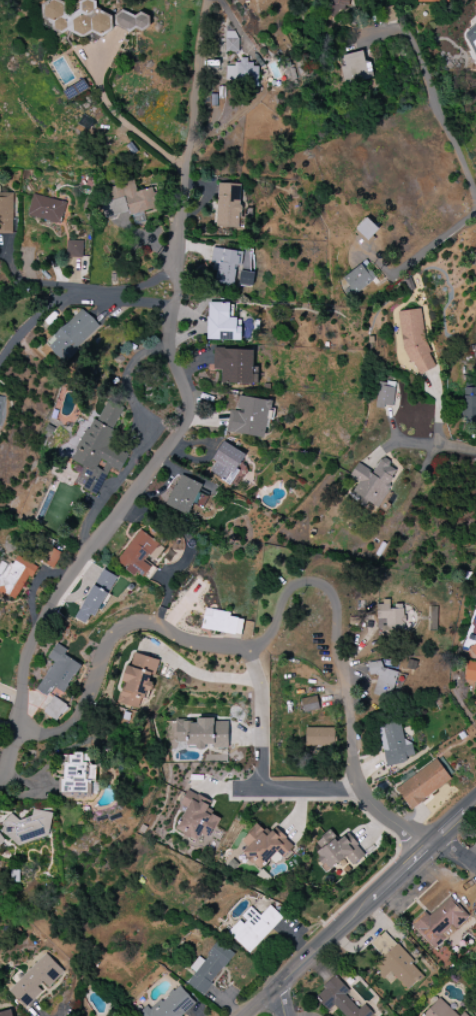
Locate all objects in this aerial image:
building: (433, 1)
building: (335, 7)
park: (111, 8)
building: (388, 14)
building: (90, 19)
building: (471, 38)
building: (355, 68)
building: (241, 72)
road: (436, 106)
road: (121, 118)
building: (126, 200)
building: (228, 205)
building: (46, 209)
building: (6, 213)
road: (433, 244)
building: (74, 249)
building: (225, 265)
building: (359, 277)
building: (246, 278)
road: (145, 285)
road: (31, 292)
road: (118, 301)
building: (221, 323)
road: (30, 333)
building: (72, 335)
building: (414, 339)
building: (475, 349)
building: (234, 365)
building: (385, 394)
building: (469, 404)
building: (2, 410)
road: (188, 416)
building: (101, 442)
road: (141, 443)
road: (421, 443)
building: (226, 463)
building: (373, 481)
building: (183, 494)
building: (138, 554)
building: (51, 557)
building: (14, 577)
building: (96, 595)
road: (283, 608)
building: (390, 618)
building: (221, 622)
building: (472, 630)
building: (0, 644)
building: (473, 650)
building: (58, 671)
building: (470, 671)
road: (200, 676)
building: (137, 680)
building: (382, 680)
building: (475, 696)
building: (309, 704)
building: (55, 709)
road: (262, 715)
building: (202, 733)
building: (319, 736)
building: (394, 742)
building: (76, 775)
building: (422, 783)
road: (293, 789)
building: (196, 818)
building: (30, 827)
building: (1, 840)
building: (264, 846)
building: (337, 850)
road: (453, 853)
road: (359, 908)
building: (439, 922)
building: (254, 927)
building: (394, 962)
building: (208, 968)
building: (36, 980)
building: (338, 999)
road: (280, 1000)
building: (172, 1004)
building: (440, 1010)
building: (6, 1013)
road: (42, 1014)
building: (463, 1014)

